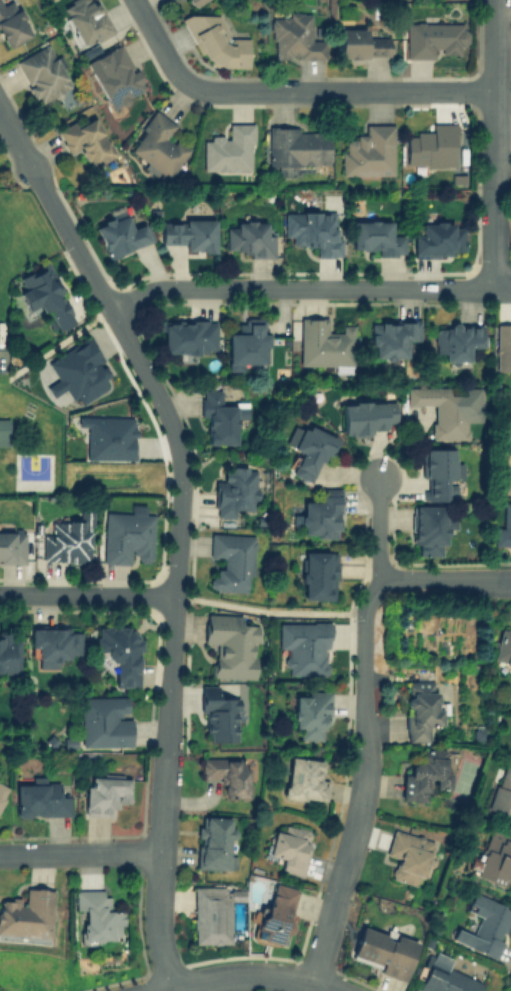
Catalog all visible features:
building: (195, 2)
building: (85, 20)
building: (11, 24)
building: (293, 37)
building: (433, 38)
building: (214, 42)
building: (360, 44)
road: (165, 54)
building: (43, 73)
building: (115, 75)
road: (353, 90)
building: (87, 140)
road: (493, 144)
building: (158, 146)
building: (432, 146)
building: (296, 147)
building: (229, 149)
building: (367, 151)
road: (56, 209)
building: (314, 230)
building: (189, 233)
building: (120, 234)
building: (376, 237)
building: (248, 238)
building: (438, 239)
road: (299, 287)
road: (501, 289)
building: (45, 295)
building: (188, 336)
building: (392, 337)
building: (456, 340)
building: (246, 343)
building: (325, 343)
building: (503, 346)
building: (78, 372)
road: (146, 380)
building: (441, 410)
building: (366, 415)
building: (218, 417)
building: (4, 430)
building: (108, 437)
building: (308, 449)
building: (507, 463)
building: (439, 472)
building: (234, 490)
building: (319, 514)
road: (378, 526)
building: (503, 528)
building: (429, 529)
building: (127, 536)
building: (68, 540)
building: (12, 546)
building: (230, 561)
building: (318, 575)
road: (445, 579)
road: (85, 598)
road: (170, 601)
road: (267, 611)
building: (54, 643)
building: (231, 644)
building: (305, 646)
building: (502, 647)
building: (119, 652)
building: (10, 653)
building: (419, 709)
building: (310, 713)
building: (217, 715)
building: (104, 721)
building: (227, 774)
building: (424, 774)
building: (304, 779)
road: (361, 780)
building: (3, 790)
building: (501, 791)
building: (104, 794)
building: (39, 799)
building: (215, 842)
building: (289, 847)
road: (80, 853)
building: (408, 856)
building: (495, 860)
road: (159, 871)
building: (212, 912)
building: (27, 913)
building: (276, 913)
building: (97, 915)
building: (485, 925)
building: (382, 951)
road: (258, 974)
building: (445, 980)

